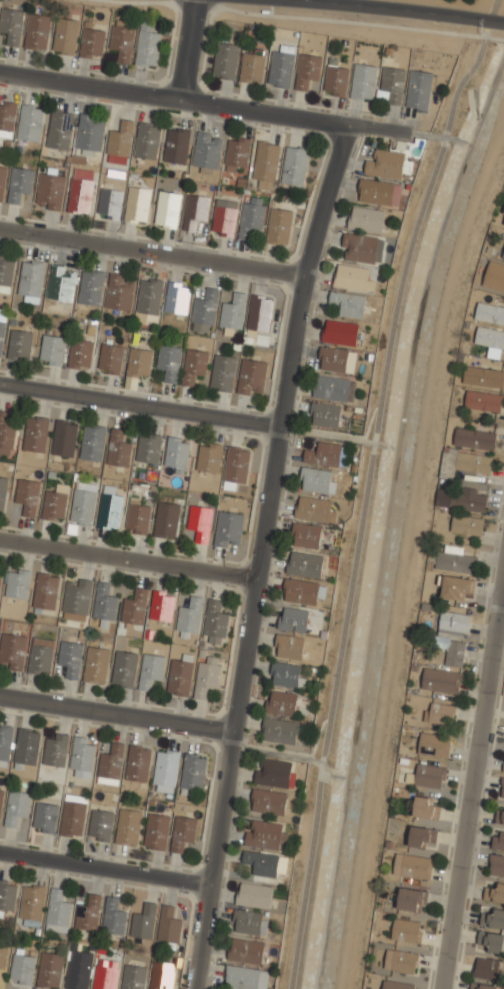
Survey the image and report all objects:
road: (395, 9)
building: (12, 25)
building: (37, 31)
building: (65, 35)
building: (122, 39)
building: (92, 42)
building: (147, 45)
road: (187, 50)
building: (225, 61)
building: (252, 68)
building: (281, 69)
building: (308, 71)
building: (336, 80)
building: (363, 82)
building: (391, 85)
building: (419, 90)
road: (203, 103)
building: (7, 118)
building: (31, 122)
building: (60, 129)
building: (91, 131)
road: (427, 134)
building: (120, 140)
building: (147, 140)
building: (176, 146)
building: (207, 151)
building: (237, 154)
building: (265, 164)
building: (385, 165)
building: (295, 166)
building: (2, 179)
building: (20, 183)
building: (50, 190)
building: (376, 193)
building: (80, 196)
building: (110, 203)
building: (137, 204)
building: (167, 209)
building: (195, 211)
building: (252, 215)
building: (224, 217)
building: (366, 219)
building: (503, 222)
building: (279, 225)
building: (361, 249)
road: (153, 251)
building: (503, 255)
building: (6, 272)
building: (494, 276)
building: (31, 278)
building: (351, 278)
building: (62, 283)
building: (91, 288)
building: (120, 292)
building: (149, 297)
building: (177, 299)
building: (347, 303)
building: (205, 310)
building: (233, 312)
building: (489, 313)
building: (260, 315)
building: (2, 326)
building: (339, 332)
building: (490, 340)
building: (19, 345)
building: (52, 349)
building: (80, 353)
building: (110, 359)
building: (336, 360)
building: (169, 362)
building: (139, 363)
building: (194, 367)
building: (223, 373)
building: (484, 375)
building: (252, 377)
building: (333, 389)
building: (483, 400)
road: (140, 404)
building: (325, 415)
road: (371, 421)
building: (6, 431)
building: (36, 434)
road: (328, 434)
building: (64, 438)
building: (475, 438)
building: (93, 443)
building: (148, 448)
building: (119, 449)
building: (177, 454)
building: (326, 455)
building: (209, 456)
building: (235, 466)
building: (466, 466)
building: (316, 480)
road: (368, 487)
building: (3, 490)
building: (27, 495)
building: (467, 500)
building: (55, 502)
building: (84, 503)
building: (110, 509)
building: (316, 510)
building: (138, 518)
building: (167, 519)
building: (200, 521)
building: (466, 524)
building: (229, 529)
building: (306, 536)
road: (261, 554)
road: (129, 558)
building: (452, 560)
building: (305, 565)
building: (0, 580)
building: (17, 582)
building: (457, 587)
building: (46, 590)
building: (300, 592)
building: (76, 599)
building: (105, 604)
building: (161, 606)
building: (134, 608)
building: (189, 618)
building: (293, 620)
road: (502, 620)
building: (215, 623)
building: (453, 635)
building: (288, 647)
building: (13, 650)
building: (41, 655)
building: (70, 657)
building: (96, 664)
building: (124, 669)
building: (151, 670)
building: (207, 675)
building: (284, 675)
building: (180, 677)
building: (441, 679)
building: (281, 704)
building: (439, 713)
road: (116, 714)
building: (279, 731)
road: (317, 736)
building: (5, 743)
building: (434, 743)
building: (27, 746)
building: (55, 749)
road: (276, 753)
building: (81, 758)
building: (137, 763)
building: (111, 764)
building: (503, 767)
building: (165, 771)
building: (192, 772)
building: (273, 773)
building: (430, 775)
building: (502, 788)
road: (474, 793)
building: (1, 798)
building: (268, 802)
building: (17, 807)
building: (425, 807)
building: (500, 814)
building: (45, 816)
building: (73, 816)
building: (101, 825)
building: (128, 826)
building: (156, 832)
building: (183, 832)
building: (265, 835)
building: (422, 837)
building: (498, 840)
building: (261, 864)
building: (496, 864)
building: (413, 865)
road: (105, 868)
building: (494, 891)
building: (7, 894)
building: (254, 895)
building: (412, 899)
building: (32, 902)
building: (57, 912)
building: (88, 914)
building: (114, 918)
building: (493, 918)
building: (246, 921)
building: (144, 922)
building: (168, 925)
building: (406, 930)
building: (490, 941)
building: (245, 950)
building: (3, 956)
building: (401, 960)
building: (486, 968)
building: (22, 969)
building: (49, 971)
building: (78, 974)
building: (105, 976)
building: (161, 976)
building: (134, 977)
building: (246, 978)
building: (397, 985)
building: (483, 986)

